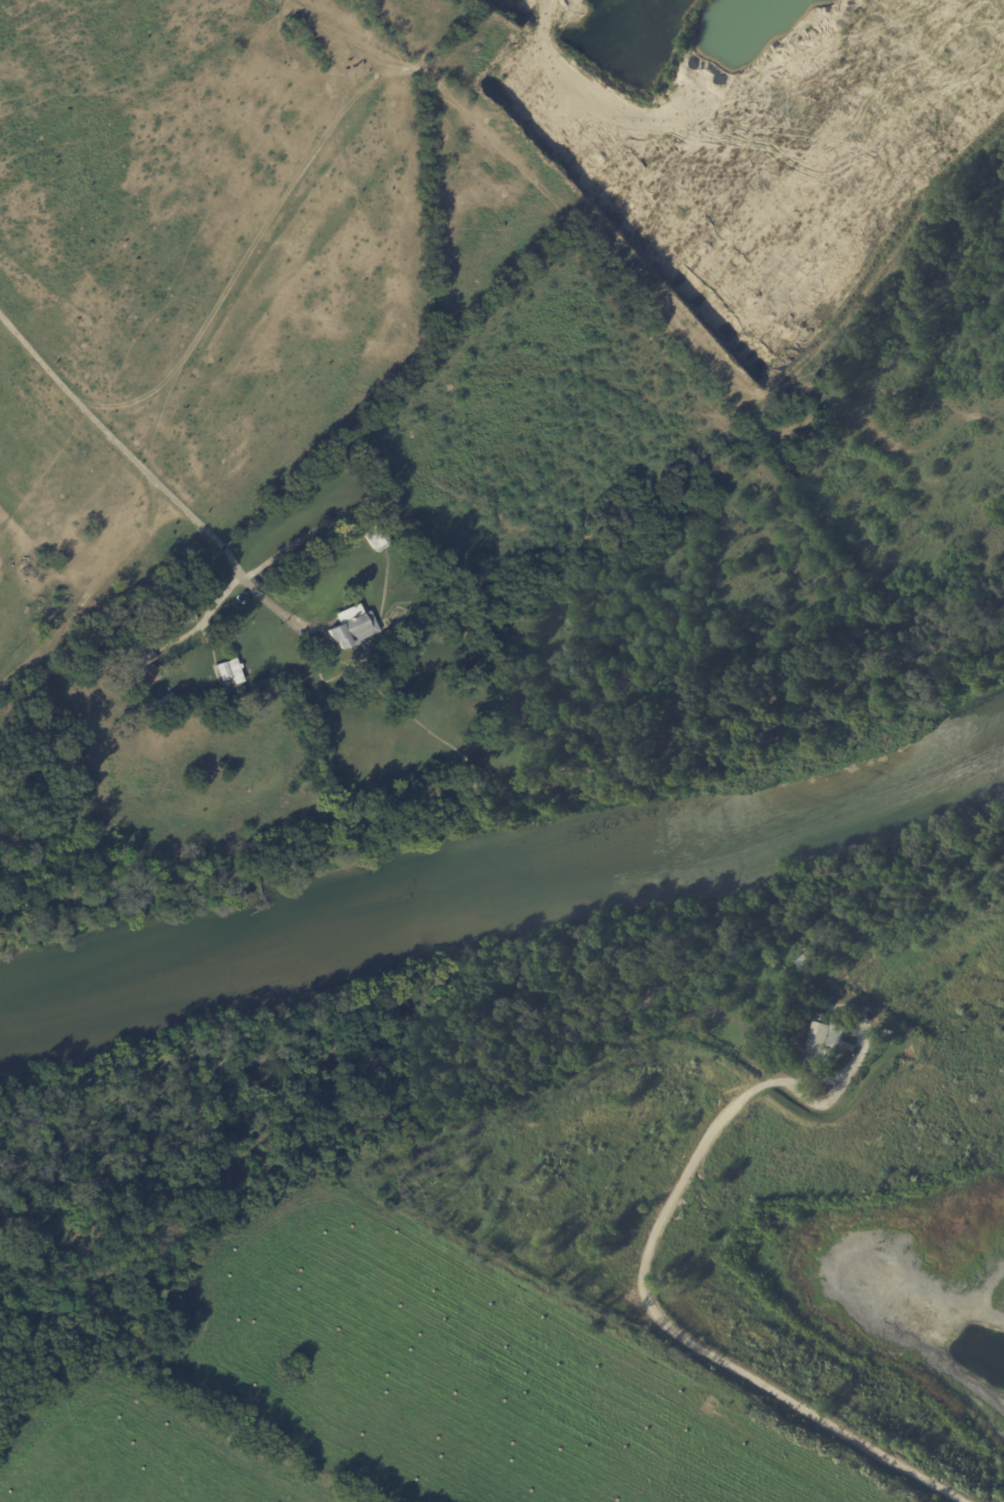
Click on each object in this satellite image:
road: (127, 462)
building: (378, 537)
building: (312, 550)
road: (279, 552)
building: (186, 612)
building: (352, 627)
building: (140, 662)
building: (231, 672)
building: (165, 704)
river: (505, 887)
building: (810, 956)
building: (811, 1002)
building: (821, 1014)
building: (819, 1019)
building: (770, 1026)
building: (823, 1044)
road: (679, 1333)
crop: (402, 1393)

